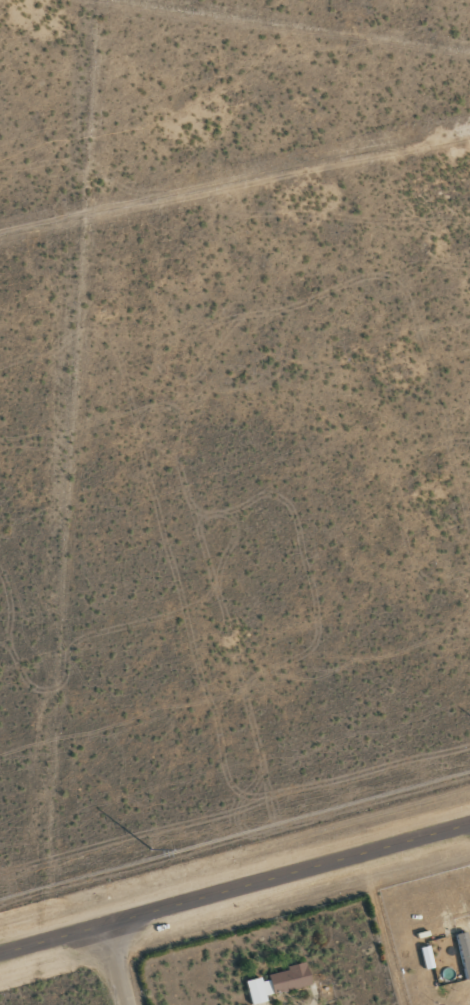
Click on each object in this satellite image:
power tower: (152, 851)
road: (235, 895)
building: (463, 953)
building: (424, 956)
road: (123, 968)
building: (275, 982)

